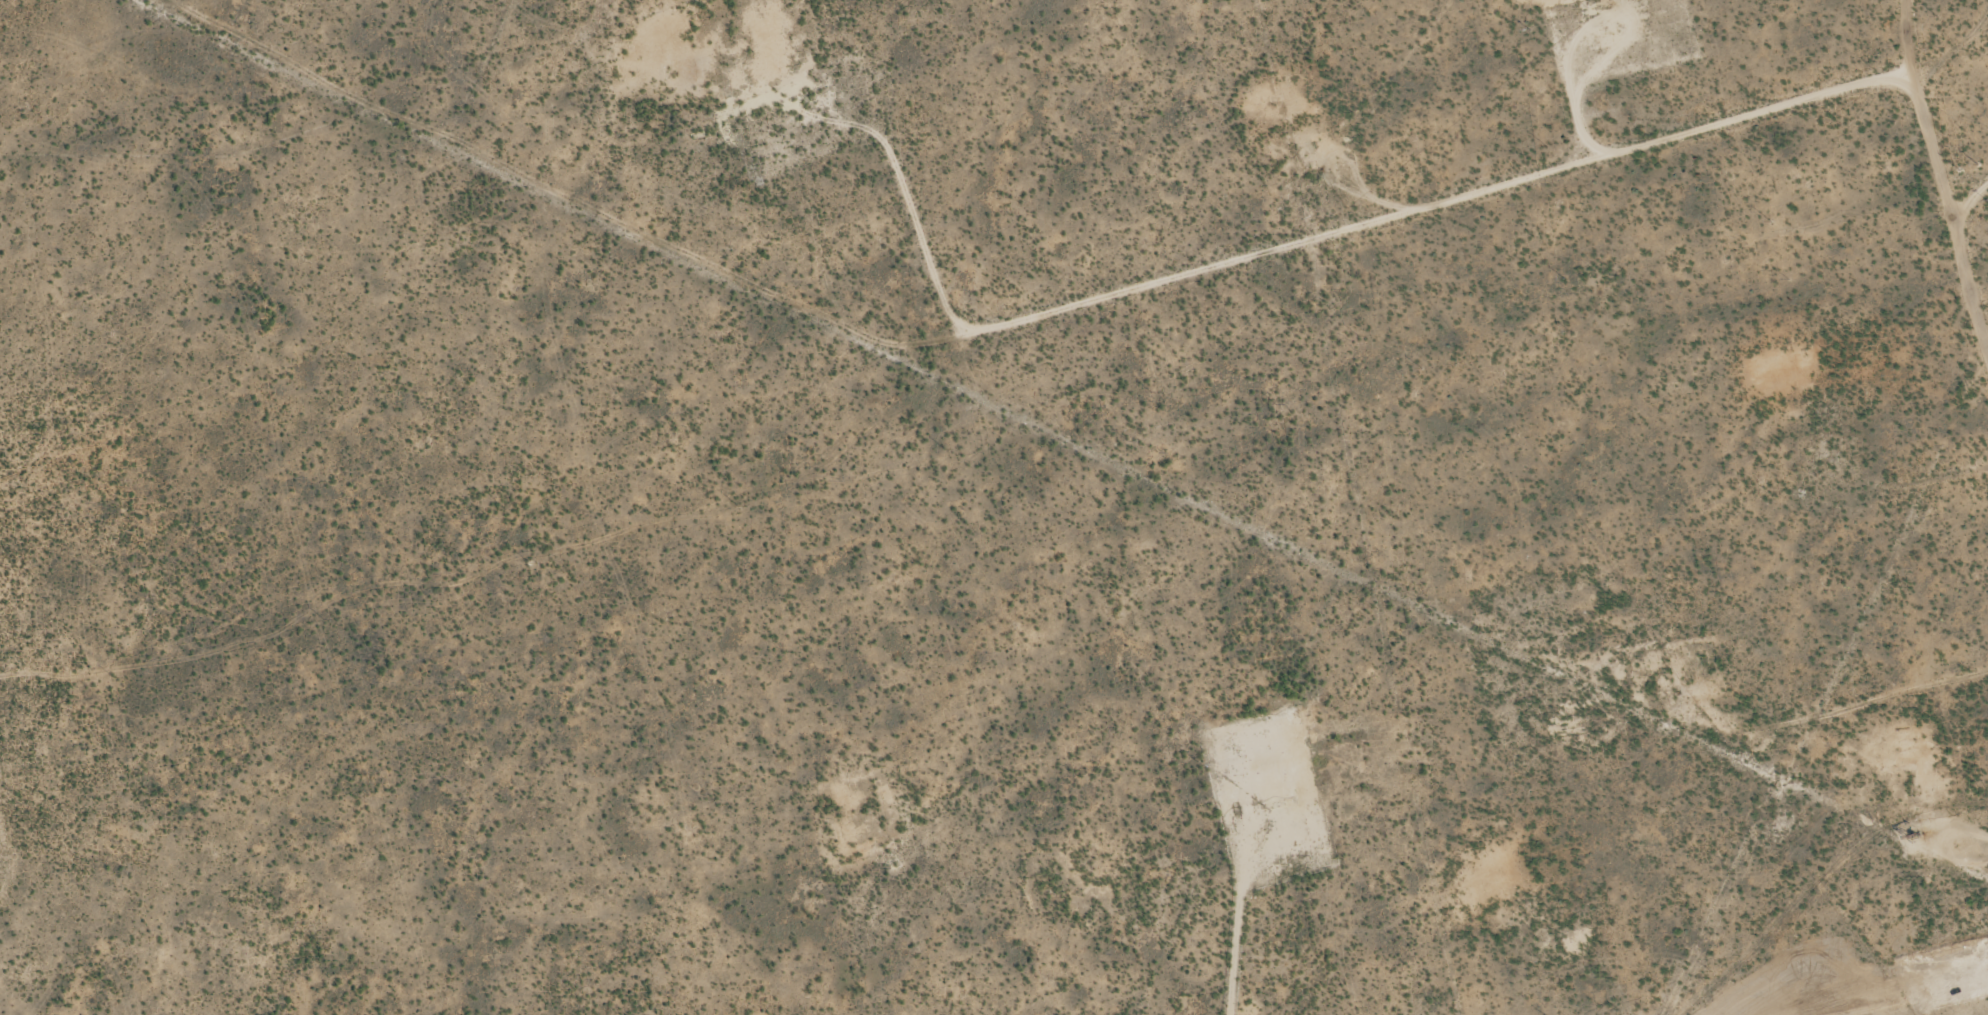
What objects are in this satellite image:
road: (1946, 150)

